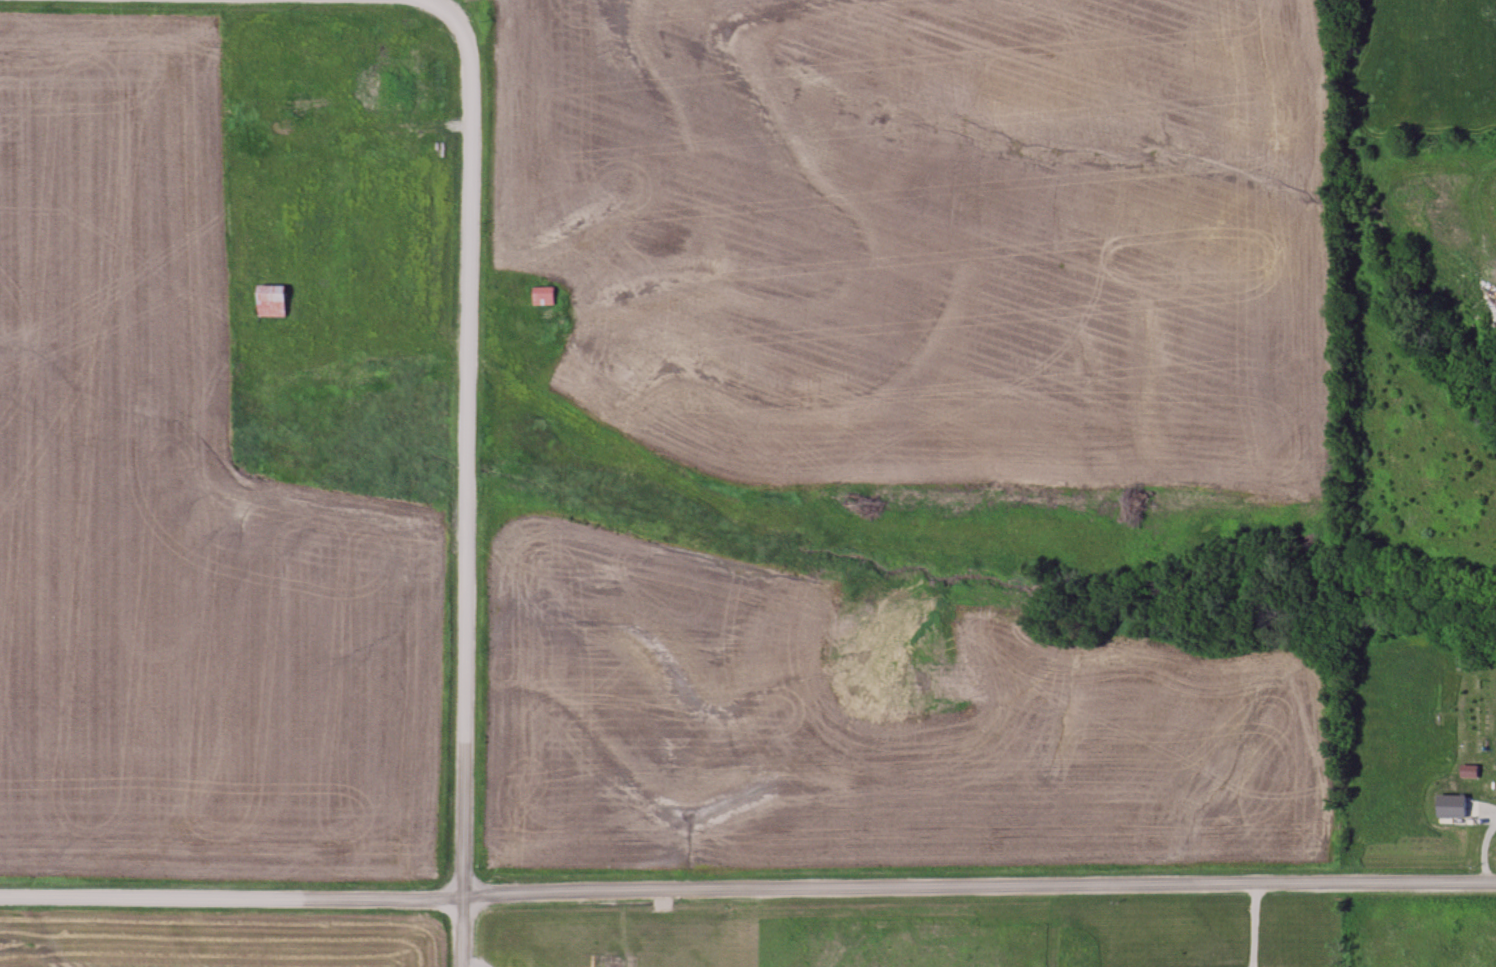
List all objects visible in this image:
building: (542, 296)
building: (270, 301)
road: (466, 472)
road: (747, 889)
road: (1246, 925)

